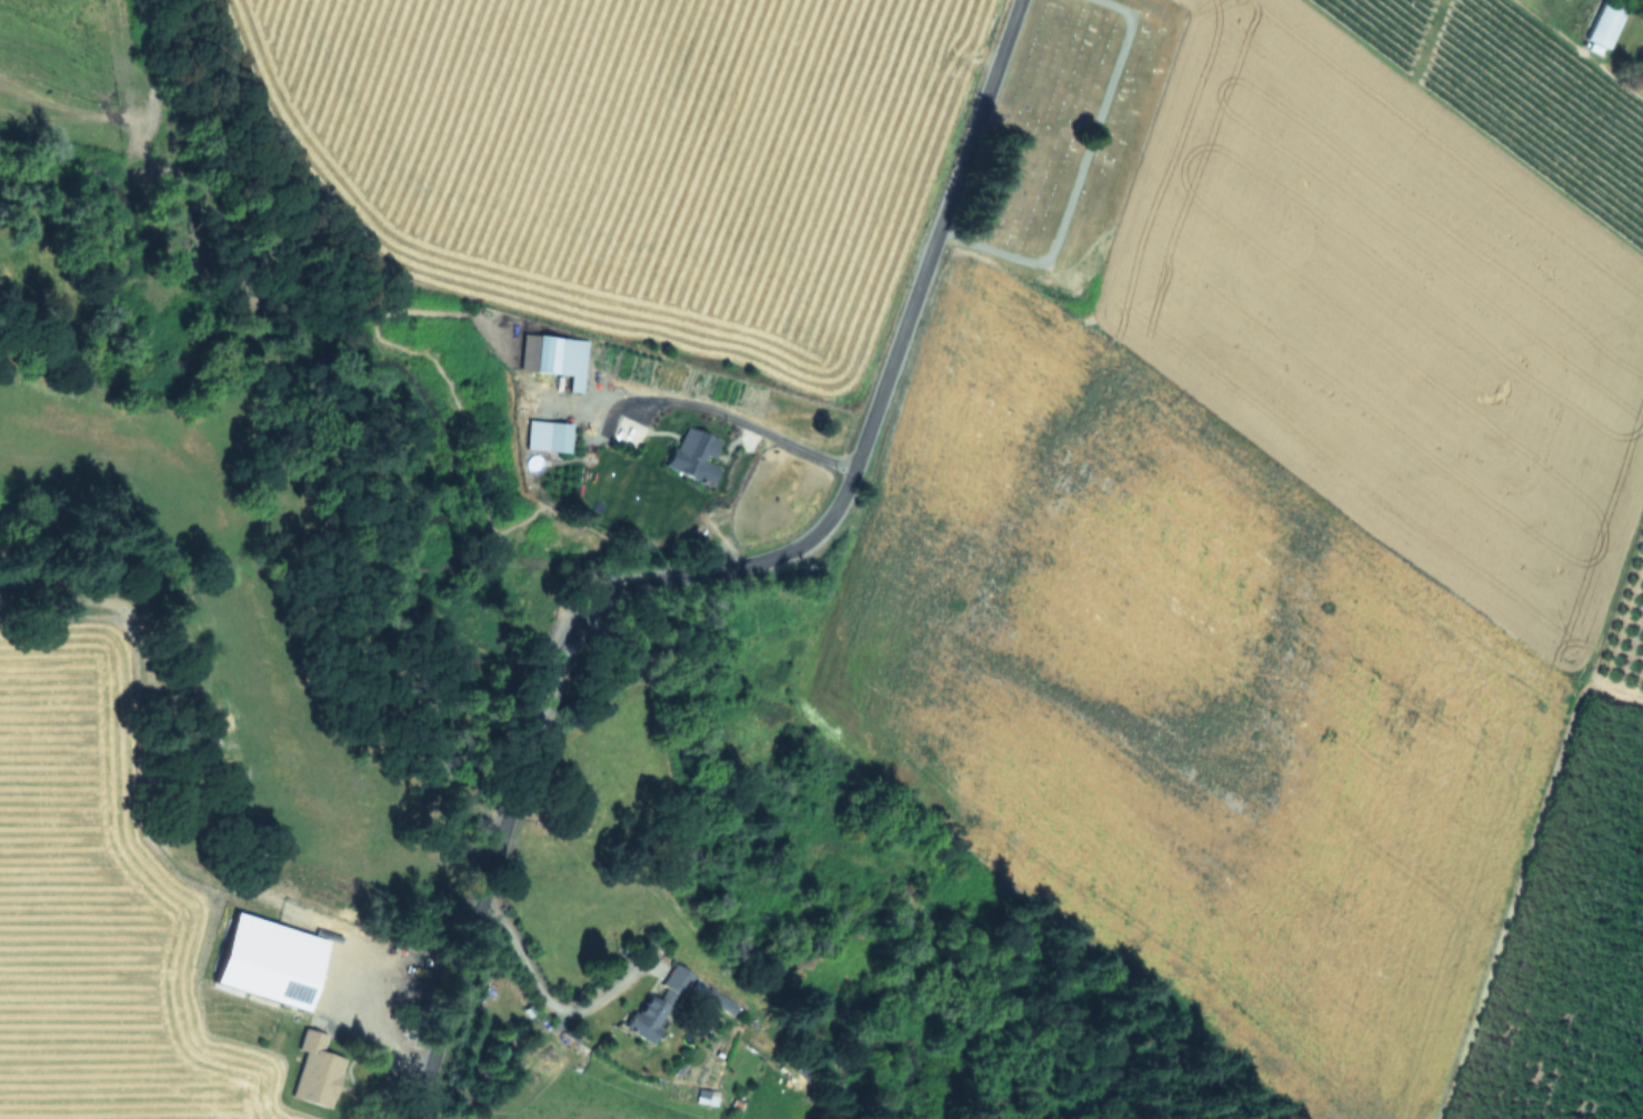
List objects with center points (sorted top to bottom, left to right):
building: (1604, 23)
building: (554, 356)
road: (741, 427)
building: (547, 434)
building: (692, 453)
road: (714, 570)
river: (394, 749)
building: (270, 955)
road: (545, 1000)
building: (718, 1000)
building: (657, 1003)
crop: (236, 1016)
building: (314, 1069)
building: (705, 1095)

